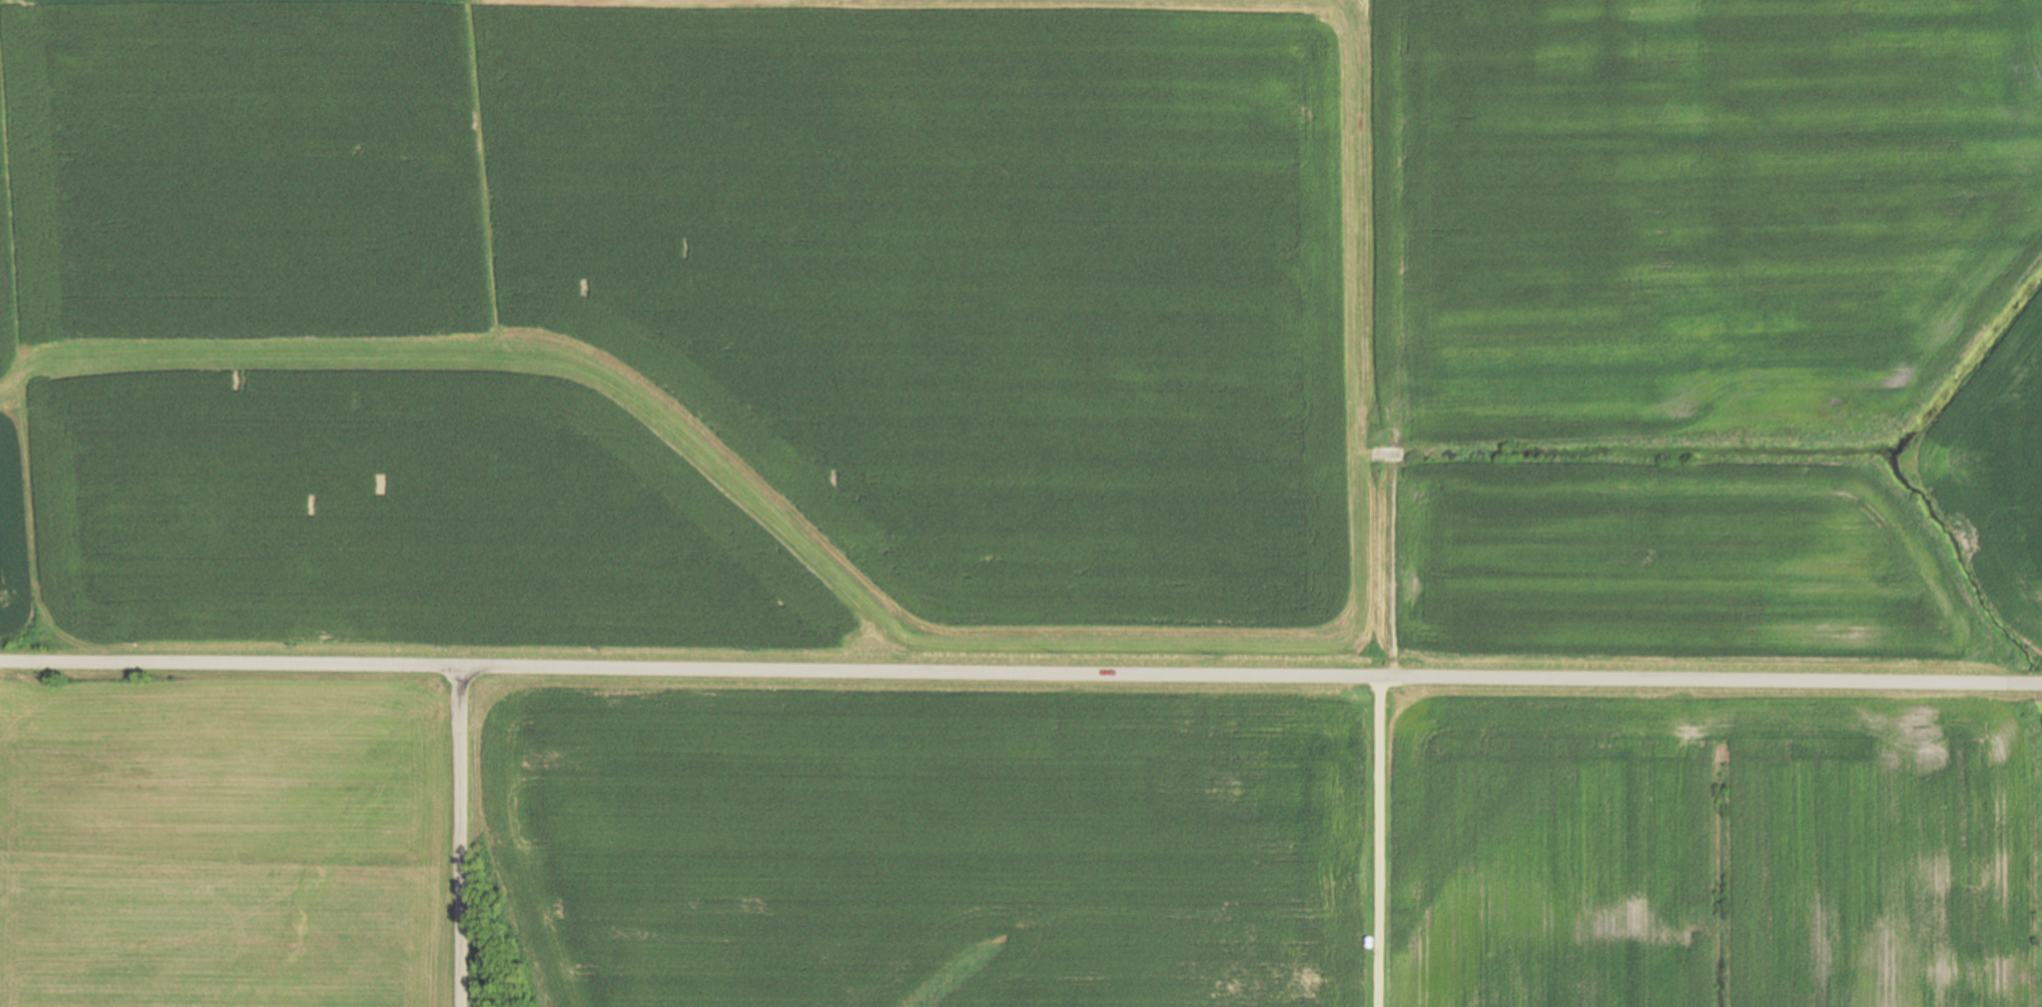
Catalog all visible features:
road: (1020, 674)
road: (460, 837)
road: (1382, 842)

